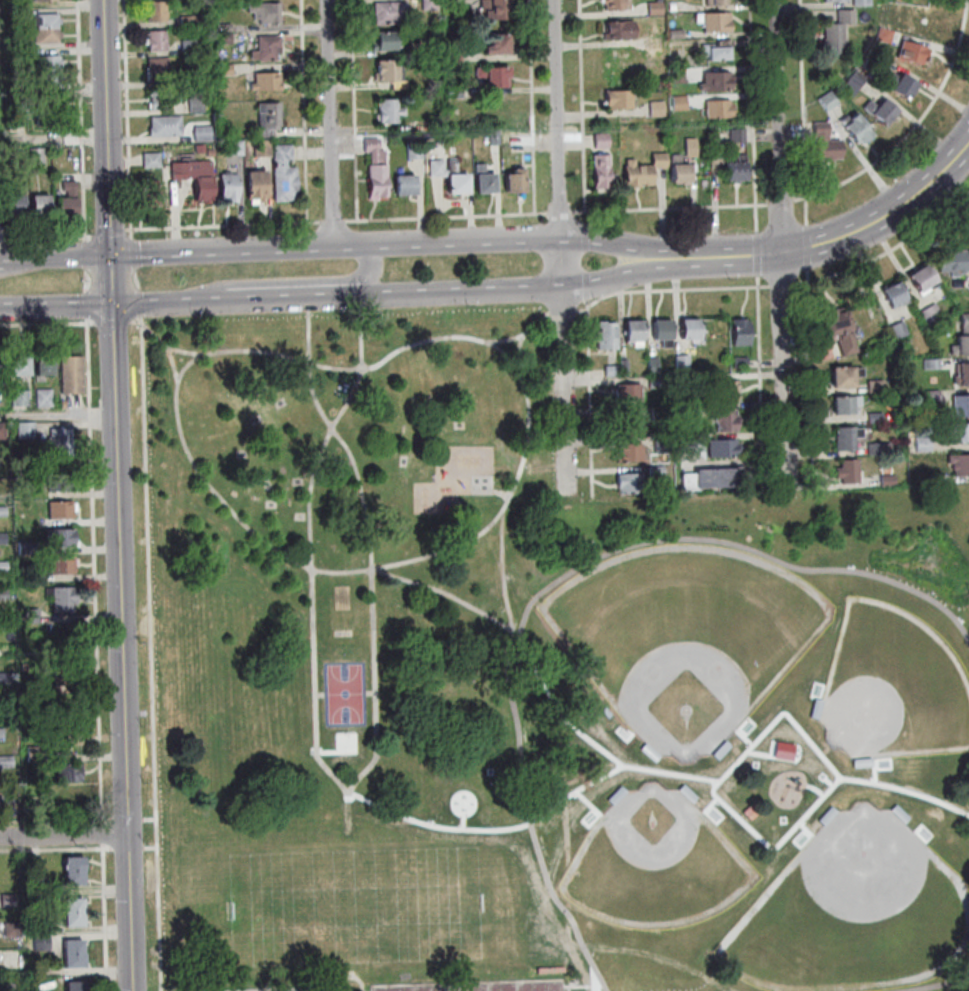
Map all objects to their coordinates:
building: (47, 1)
building: (837, 1)
building: (717, 2)
building: (863, 3)
building: (453, 4)
building: (431, 5)
building: (619, 5)
building: (673, 7)
building: (497, 8)
building: (657, 8)
building: (159, 11)
building: (267, 12)
building: (393, 13)
building: (48, 21)
building: (189, 21)
building: (719, 23)
building: (226, 28)
building: (621, 30)
building: (840, 34)
building: (49, 35)
building: (678, 35)
building: (887, 35)
building: (226, 39)
building: (385, 40)
building: (159, 41)
building: (658, 43)
building: (499, 44)
building: (432, 46)
building: (190, 47)
building: (268, 48)
building: (914, 52)
building: (721, 53)
building: (455, 54)
building: (49, 62)
building: (877, 63)
road: (81, 64)
building: (159, 69)
building: (226, 70)
building: (390, 74)
building: (50, 76)
building: (495, 76)
building: (679, 76)
building: (189, 80)
building: (268, 82)
building: (719, 82)
building: (855, 84)
building: (901, 84)
building: (456, 92)
building: (162, 99)
building: (621, 100)
building: (830, 101)
building: (51, 103)
building: (681, 103)
building: (20, 106)
building: (198, 106)
road: (534, 107)
building: (658, 109)
building: (720, 109)
road: (357, 110)
building: (883, 110)
road: (306, 111)
road: (585, 111)
building: (391, 112)
road: (804, 112)
road: (754, 116)
building: (52, 118)
road: (129, 118)
building: (270, 118)
road: (333, 123)
building: (167, 126)
building: (422, 126)
road: (109, 127)
building: (860, 129)
road: (912, 131)
building: (204, 134)
building: (739, 135)
building: (496, 138)
building: (603, 140)
building: (827, 143)
building: (692, 147)
building: (201, 148)
building: (237, 148)
building: (264, 148)
building: (417, 152)
building: (212, 153)
building: (38, 156)
building: (154, 160)
road: (949, 167)
building: (738, 168)
building: (378, 169)
building: (603, 170)
building: (645, 170)
building: (681, 170)
building: (286, 174)
building: (451, 175)
building: (197, 177)
building: (486, 179)
building: (516, 181)
building: (407, 184)
road: (85, 185)
building: (259, 186)
building: (231, 187)
building: (151, 195)
road: (948, 196)
building: (69, 199)
building: (15, 201)
building: (41, 203)
road: (783, 203)
road: (672, 209)
road: (562, 214)
road: (447, 217)
road: (333, 222)
road: (223, 226)
road: (860, 230)
road: (110, 234)
road: (586, 237)
road: (47, 238)
road: (559, 239)
road: (782, 244)
road: (564, 247)
road: (809, 247)
road: (224, 250)
traffic signals: (113, 254)
road: (134, 254)
road: (758, 254)
road: (58, 255)
road: (884, 255)
road: (87, 256)
road: (2, 257)
road: (586, 259)
building: (957, 259)
road: (366, 273)
road: (86, 279)
road: (114, 279)
road: (136, 279)
building: (924, 279)
road: (586, 283)
road: (785, 285)
road: (566, 287)
road: (671, 289)
building: (896, 295)
road: (284, 298)
road: (140, 302)
road: (86, 303)
road: (169, 303)
traffic signals: (115, 305)
road: (57, 306)
road: (562, 311)
building: (933, 313)
road: (112, 324)
road: (47, 325)
building: (661, 327)
building: (689, 327)
building: (740, 330)
building: (841, 330)
building: (900, 330)
building: (632, 331)
building: (606, 333)
road: (521, 335)
building: (963, 340)
road: (162, 343)
road: (517, 351)
road: (760, 356)
building: (681, 360)
building: (739, 360)
road: (172, 363)
building: (933, 364)
building: (623, 365)
building: (652, 365)
building: (43, 366)
building: (18, 367)
building: (611, 369)
building: (963, 375)
building: (71, 376)
building: (846, 376)
road: (812, 378)
building: (656, 381)
building: (687, 381)
building: (877, 386)
building: (727, 390)
building: (627, 391)
road: (589, 397)
building: (934, 398)
building: (17, 400)
building: (42, 400)
building: (848, 404)
building: (64, 405)
building: (962, 406)
building: (686, 412)
building: (658, 413)
road: (59, 417)
building: (877, 417)
building: (725, 418)
building: (630, 420)
building: (24, 432)
building: (959, 432)
building: (1, 433)
road: (773, 435)
building: (848, 438)
building: (686, 439)
building: (62, 443)
building: (661, 443)
building: (924, 445)
building: (722, 446)
building: (881, 449)
building: (628, 451)
building: (961, 465)
building: (654, 470)
building: (850, 472)
building: (714, 476)
building: (890, 481)
building: (629, 482)
building: (58, 485)
road: (806, 488)
road: (501, 492)
building: (60, 512)
building: (2, 514)
road: (237, 518)
building: (59, 540)
building: (2, 541)
road: (309, 542)
road: (369, 542)
building: (25, 550)
building: (62, 567)
building: (2, 569)
road: (95, 571)
road: (502, 573)
road: (558, 579)
building: (29, 580)
building: (3, 597)
building: (62, 600)
road: (486, 616)
building: (31, 618)
building: (4, 624)
park: (683, 638)
road: (124, 648)
building: (4, 652)
road: (154, 653)
building: (59, 654)
building: (64, 678)
building: (5, 680)
park: (892, 687)
park: (533, 690)
road: (369, 692)
road: (319, 694)
park: (344, 694)
road: (743, 722)
building: (1, 735)
building: (62, 738)
park: (345, 742)
building: (782, 750)
road: (325, 751)
road: (766, 754)
building: (34, 757)
road: (882, 758)
building: (6, 764)
road: (630, 765)
building: (67, 775)
road: (828, 781)
road: (834, 782)
road: (814, 788)
road: (904, 790)
road: (347, 795)
building: (1, 806)
road: (597, 817)
road: (711, 818)
road: (128, 821)
road: (152, 821)
road: (55, 822)
road: (462, 822)
road: (489, 828)
road: (65, 835)
road: (104, 835)
road: (802, 843)
road: (130, 849)
road: (153, 849)
road: (57, 851)
park: (654, 862)
building: (38, 865)
building: (76, 865)
building: (76, 879)
building: (41, 886)
building: (42, 899)
building: (9, 902)
park: (356, 904)
building: (75, 906)
park: (852, 911)
road: (107, 918)
building: (75, 920)
building: (44, 927)
building: (13, 930)
building: (43, 943)
building: (75, 947)
building: (75, 961)
building: (552, 970)
road: (350, 973)
road: (350, 976)
building: (714, 976)
road: (594, 979)
building: (14, 983)
road: (582, 985)
road: (940, 985)
building: (78, 986)
park: (480, 986)
park: (294, 989)

